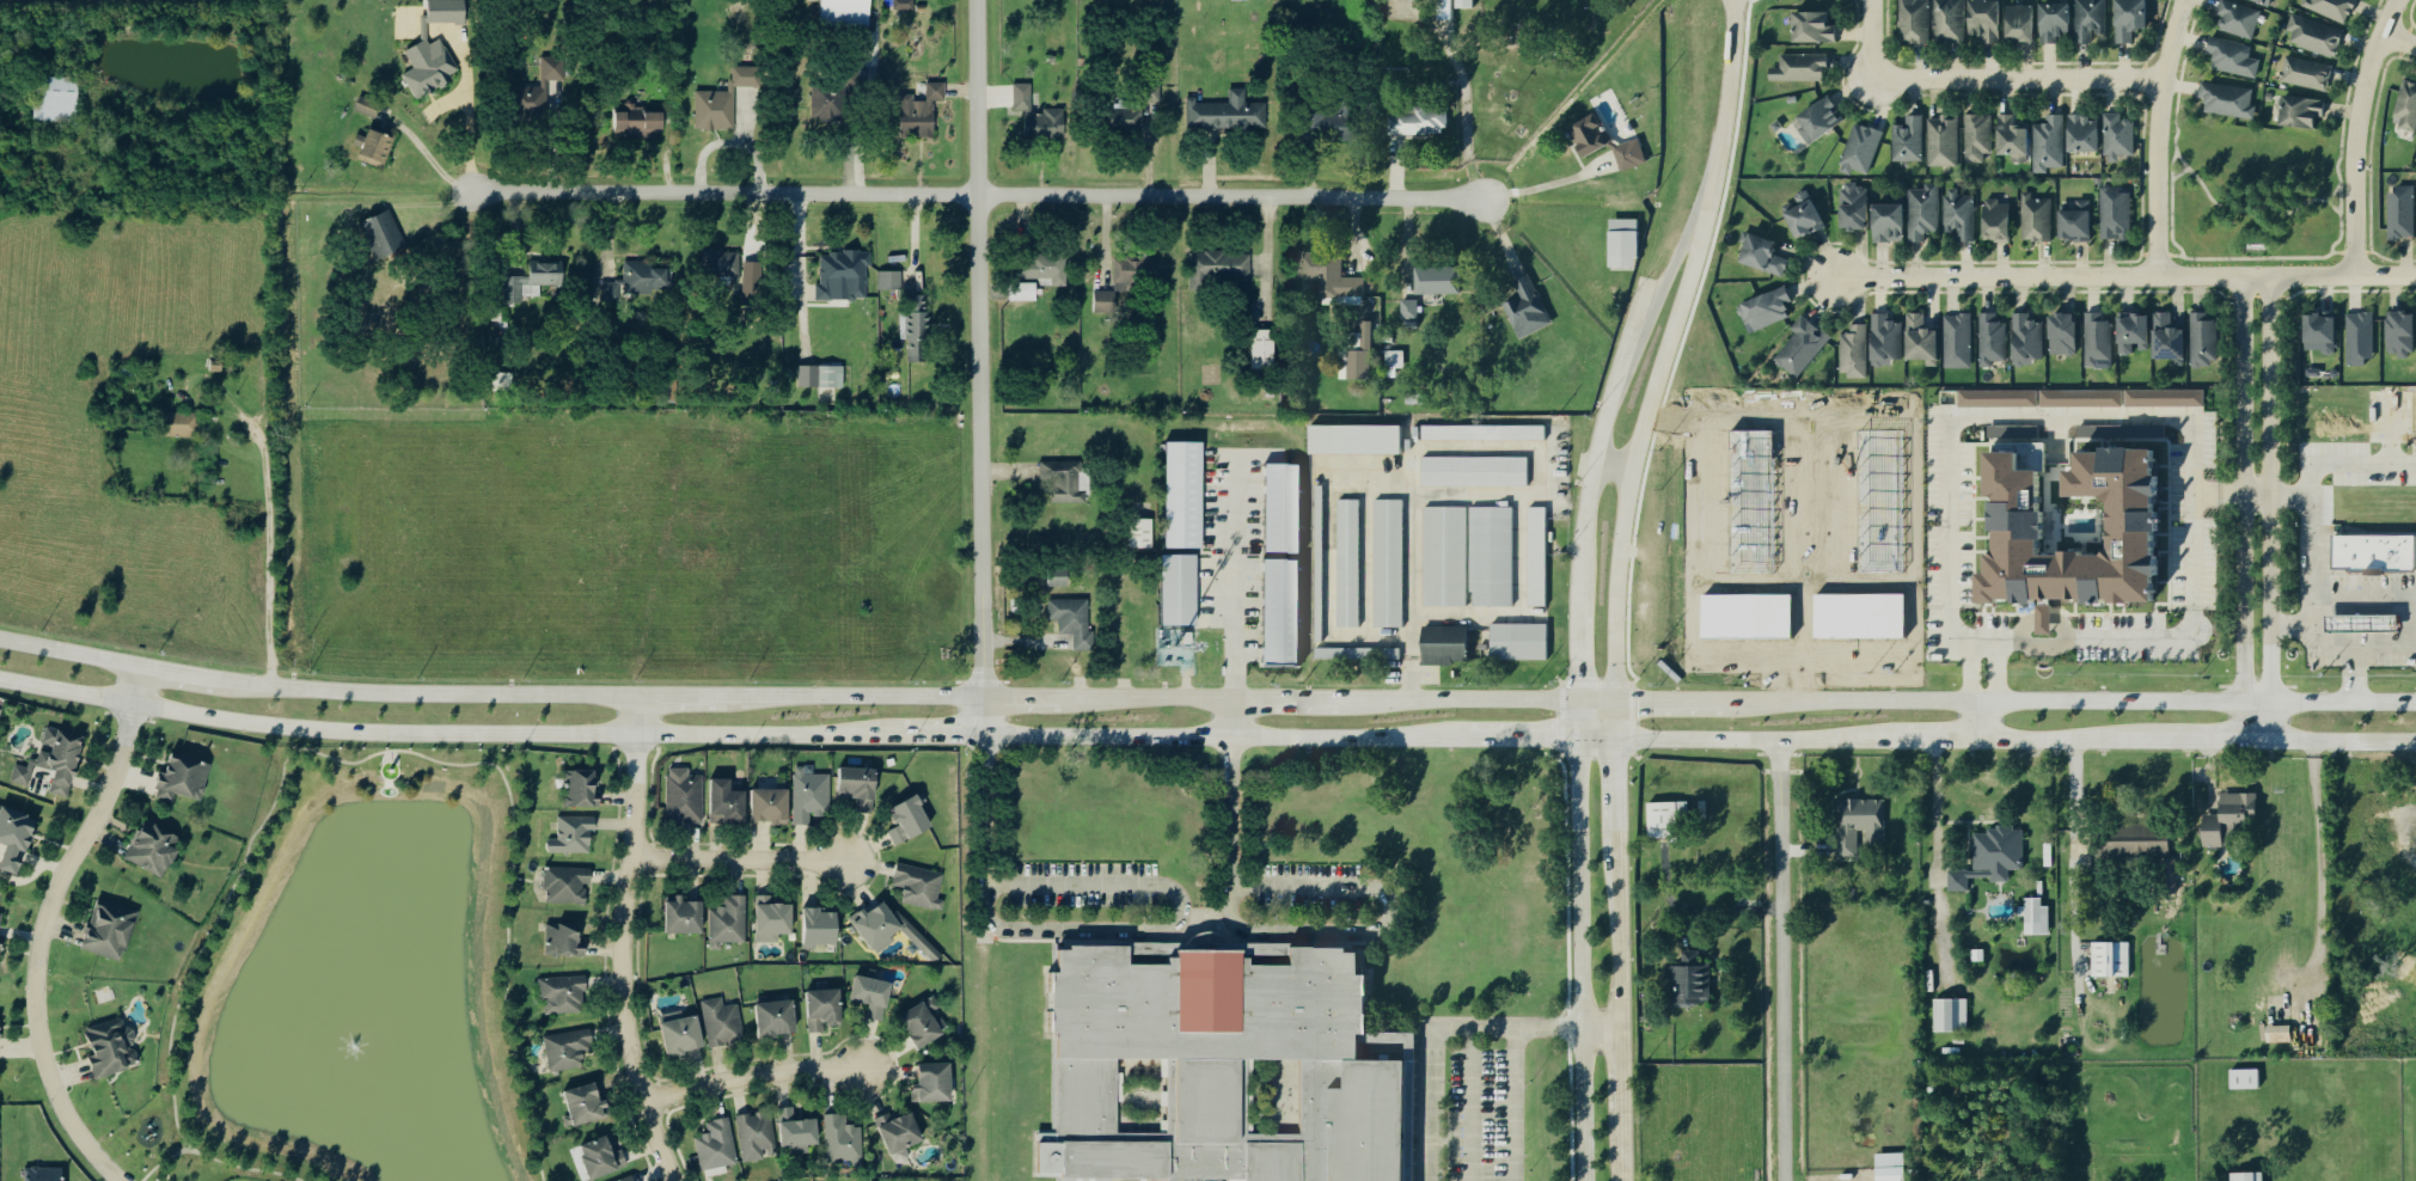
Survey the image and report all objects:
building: (1409, 0)
building: (2267, 1)
building: (1462, 4)
building: (903, 5)
building: (2335, 7)
building: (920, 8)
building: (1444, 10)
building: (444, 11)
building: (844, 16)
building: (2239, 17)
building: (2133, 18)
building: (2091, 19)
building: (1915, 20)
building: (1951, 20)
building: (1988, 20)
building: (2059, 20)
building: (2023, 23)
building: (1817, 25)
building: (2317, 33)
road: (2399, 37)
road: (1867, 38)
building: (2233, 56)
building: (1803, 66)
building: (432, 67)
building: (2307, 72)
road: (2014, 77)
building: (546, 82)
road: (1730, 84)
building: (54, 98)
building: (2228, 98)
building: (1790, 99)
building: (726, 100)
building: (831, 102)
building: (2408, 105)
building: (369, 106)
building: (923, 111)
building: (2305, 111)
building: (1229, 112)
building: (1129, 116)
building: (1041, 117)
building: (1821, 118)
building: (1420, 120)
building: (642, 122)
building: (1334, 122)
building: (1774, 126)
building: (2086, 133)
building: (1592, 134)
building: (1977, 136)
building: (2120, 136)
road: (2356, 136)
road: (469, 137)
building: (2014, 137)
building: (1909, 139)
road: (2155, 139)
building: (1944, 140)
building: (2049, 143)
building: (377, 147)
building: (1863, 148)
building: (1632, 153)
road: (1535, 185)
park: (2253, 197)
road: (975, 200)
building: (1858, 206)
building: (1923, 210)
building: (2117, 212)
building: (2403, 212)
building: (1959, 213)
building: (1809, 214)
building: (2037, 218)
building: (1999, 219)
building: (1891, 221)
building: (2079, 221)
building: (385, 234)
building: (1627, 241)
building: (1767, 253)
building: (723, 263)
building: (1222, 265)
building: (1046, 268)
building: (1331, 273)
building: (844, 274)
building: (1438, 279)
building: (892, 280)
building: (534, 281)
building: (641, 281)
building: (757, 282)
road: (2123, 282)
building: (1123, 284)
building: (1026, 292)
building: (1411, 307)
building: (1529, 307)
building: (1769, 308)
building: (920, 328)
building: (2136, 331)
building: (2323, 331)
building: (2066, 332)
building: (2403, 334)
building: (1923, 337)
building: (2171, 337)
building: (2206, 337)
building: (2361, 337)
building: (1888, 338)
building: (1992, 338)
building: (2029, 338)
building: (1958, 339)
building: (2099, 339)
building: (1804, 345)
building: (1266, 349)
building: (1855, 350)
road: (1631, 354)
building: (1360, 355)
road: (977, 368)
building: (824, 375)
building: (2000, 397)
building: (2082, 397)
building: (2166, 397)
road: (269, 399)
road: (2128, 410)
building: (183, 424)
road: (1644, 430)
building: (1480, 433)
building: (1354, 440)
road: (2345, 459)
building: (1473, 471)
building: (1065, 481)
building: (2074, 482)
building: (1187, 495)
road: (2252, 497)
building: (1751, 501)
building: (1880, 502)
building: (1282, 507)
road: (2240, 512)
road: (2265, 513)
building: (1321, 522)
building: (2030, 524)
building: (1144, 533)
building: (2378, 551)
building: (1492, 555)
building: (1444, 556)
building: (1535, 556)
building: (1316, 562)
building: (1347, 562)
building: (1388, 563)
building: (1994, 563)
road: (1229, 574)
building: (1060, 576)
building: (1182, 589)
road: (2360, 598)
building: (1279, 611)
road: (2305, 611)
building: (1747, 616)
building: (1859, 616)
building: (2048, 619)
building: (1075, 620)
building: (2367, 623)
road: (1579, 625)
road: (2409, 635)
building: (1517, 642)
building: (1444, 643)
road: (2305, 644)
road: (71, 653)
building: (1356, 654)
road: (184, 674)
traffic signals: (1578, 675)
road: (432, 694)
road: (683, 694)
road: (855, 696)
road: (1030, 697)
road: (1328, 698)
road: (1597, 699)
road: (1683, 699)
traffic signals: (1638, 700)
road: (2082, 700)
road: (1577, 720)
road: (1974, 721)
road: (439, 733)
road: (932, 736)
road: (1217, 738)
road: (1751, 739)
road: (1535, 740)
traffic signals: (1554, 740)
road: (1931, 740)
road: (2059, 741)
road: (2204, 742)
road: (2341, 742)
road: (336, 758)
traffic signals: (1617, 759)
building: (56, 760)
road: (1617, 771)
building: (184, 778)
building: (862, 787)
building: (582, 788)
building: (812, 794)
building: (686, 796)
building: (729, 802)
building: (772, 806)
building: (2232, 816)
building: (1668, 818)
building: (912, 820)
building: (1859, 821)
building: (575, 834)
building: (17, 838)
building: (2137, 842)
road: (2076, 846)
building: (155, 849)
road: (1935, 852)
building: (1993, 856)
road: (2318, 856)
road: (739, 858)
road: (1134, 881)
building: (568, 885)
building: (922, 886)
road: (1205, 908)
building: (2037, 914)
building: (686, 917)
building: (775, 919)
building: (730, 922)
road: (43, 926)
building: (822, 928)
building: (891, 929)
building: (111, 930)
road: (1290, 932)
building: (1, 934)
road: (1619, 934)
building: (564, 941)
road: (623, 941)
road: (1781, 959)
building: (2112, 959)
road: (1577, 960)
building: (1692, 978)
building: (564, 993)
building: (874, 996)
building: (825, 1006)
building: (1952, 1015)
building: (778, 1016)
building: (724, 1021)
building: (926, 1021)
building: (1, 1026)
road: (1598, 1026)
road: (1427, 1030)
building: (684, 1032)
building: (2281, 1033)
building: (114, 1046)
building: (569, 1048)
fountain: (354, 1050)
building: (1215, 1063)
road: (752, 1075)
building: (2247, 1077)
building: (935, 1082)
road: (1620, 1082)
building: (588, 1103)
road: (1466, 1106)
road: (1507, 1106)
building: (800, 1128)
building: (901, 1131)
building: (758, 1136)
building: (844, 1138)
building: (717, 1145)
building: (604, 1156)
road: (1621, 1159)
road: (163, 1161)
building: (1894, 1165)
building: (47, 1174)
building: (2251, 1175)
building: (630, 1179)

